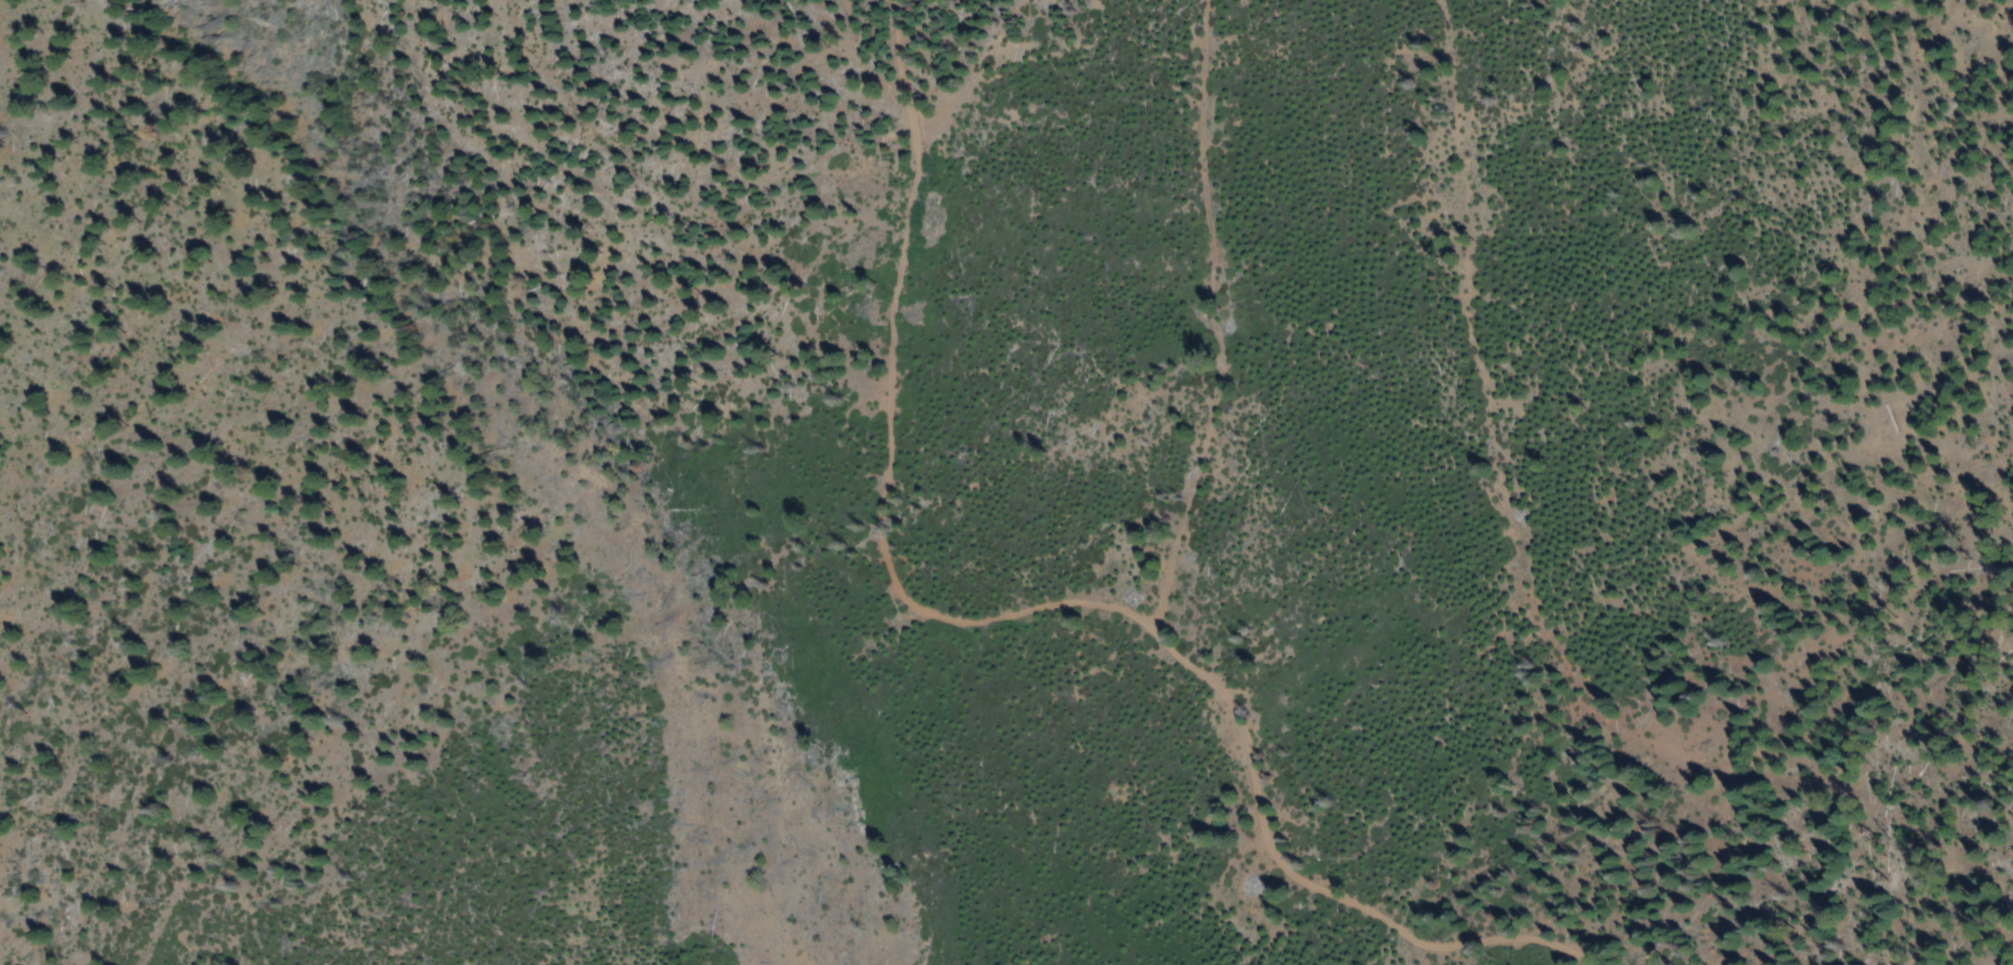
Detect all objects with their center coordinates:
road: (892, 432)
road: (1518, 582)
road: (1163, 614)

